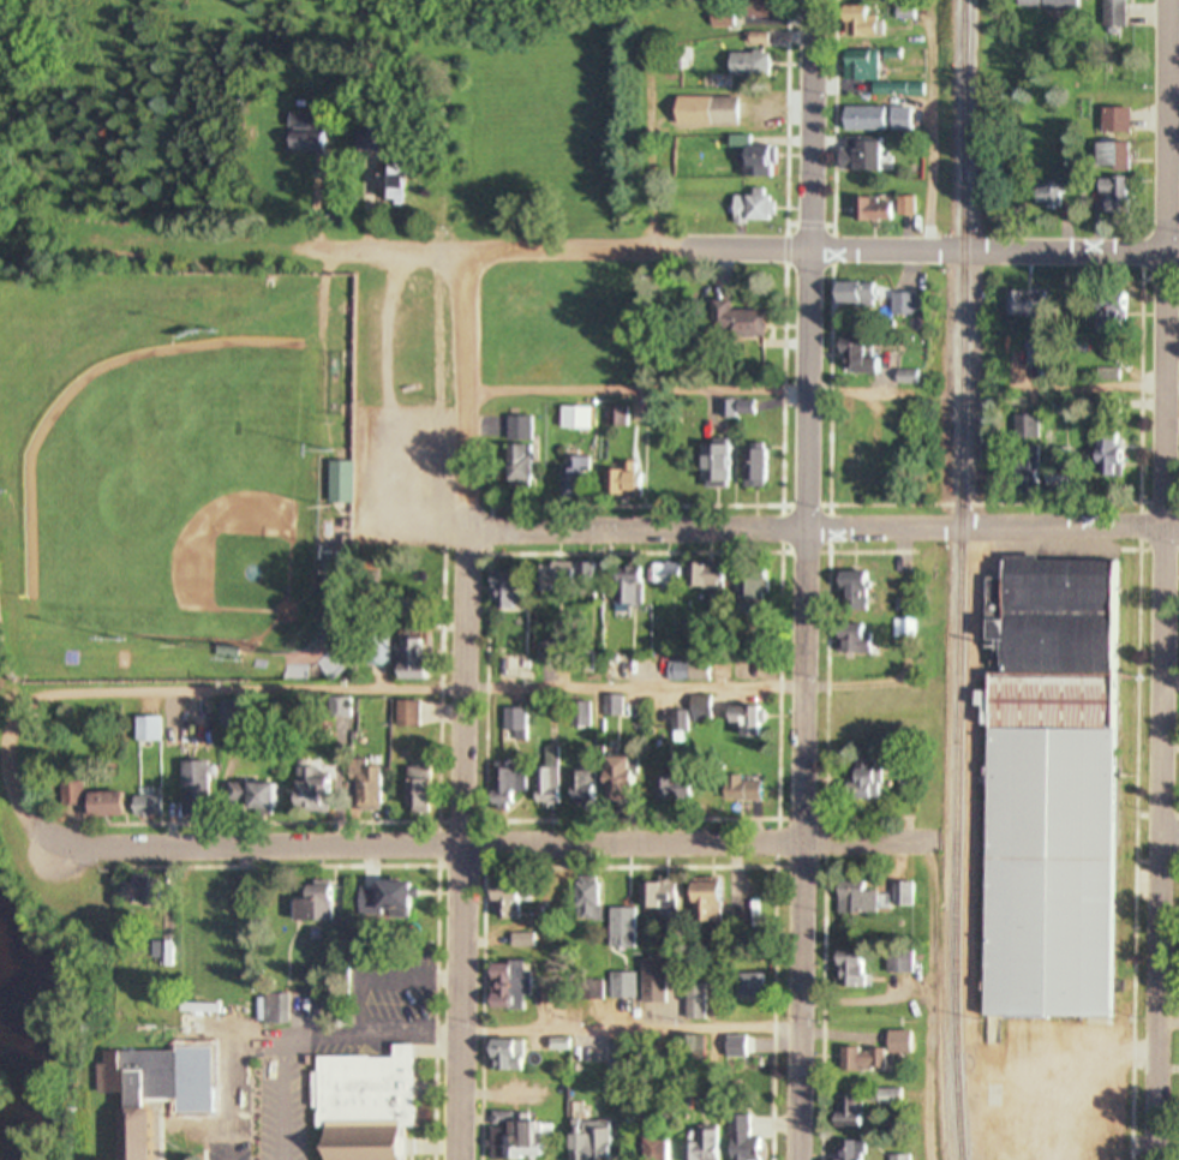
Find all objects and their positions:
building: (875, 0)
building: (1043, 4)
building: (760, 10)
building: (1109, 13)
building: (717, 22)
building: (857, 24)
building: (742, 64)
building: (856, 67)
road: (1172, 95)
building: (716, 113)
building: (858, 119)
building: (1111, 121)
road: (928, 125)
building: (300, 136)
building: (1107, 156)
building: (852, 157)
building: (752, 162)
building: (367, 184)
building: (1046, 196)
building: (1109, 199)
road: (370, 209)
building: (746, 210)
building: (866, 211)
road: (744, 251)
building: (850, 294)
building: (899, 305)
building: (1017, 305)
building: (1105, 318)
building: (728, 322)
building: (850, 358)
building: (1107, 377)
road: (1087, 389)
road: (686, 393)
building: (734, 409)
building: (612, 418)
building: (1021, 427)
building: (514, 430)
building: (1100, 455)
park: (216, 456)
building: (708, 467)
building: (848, 467)
building: (514, 468)
building: (749, 470)
building: (1019, 471)
building: (570, 482)
building: (618, 483)
building: (335, 484)
road: (821, 531)
building: (683, 578)
road: (1161, 579)
road: (804, 580)
railway: (957, 580)
building: (563, 581)
building: (747, 585)
building: (622, 588)
building: (498, 590)
building: (846, 591)
building: (848, 639)
building: (407, 660)
building: (736, 670)
building: (684, 671)
road: (1169, 681)
road: (400, 689)
road: (462, 706)
building: (611, 707)
building: (689, 713)
building: (579, 716)
building: (742, 722)
building: (515, 724)
building: (615, 781)
building: (861, 781)
building: (546, 782)
building: (361, 785)
building: (503, 785)
building: (1042, 787)
building: (192, 788)
building: (412, 788)
building: (668, 789)
building: (732, 789)
building: (579, 790)
building: (309, 791)
building: (253, 797)
building: (90, 802)
building: (144, 807)
road: (395, 825)
road: (1169, 839)
road: (483, 847)
road: (427, 868)
road: (629, 869)
street lamp: (107, 871)
building: (137, 892)
building: (654, 898)
building: (851, 898)
building: (379, 899)
building: (586, 899)
building: (501, 901)
building: (217, 902)
building: (747, 902)
building: (311, 904)
building: (702, 904)
building: (520, 941)
building: (897, 963)
building: (845, 970)
building: (651, 982)
building: (504, 986)
building: (621, 987)
building: (743, 988)
building: (585, 992)
building: (193, 1003)
building: (693, 1003)
road: (930, 1003)
building: (276, 1011)
road: (1168, 1024)
road: (628, 1030)
river: (25, 1039)
building: (557, 1046)
building: (732, 1048)
building: (688, 1050)
building: (502, 1057)
building: (872, 1057)
building: (617, 1058)
building: (885, 1099)
building: (359, 1107)
building: (845, 1113)
building: (128, 1135)
building: (738, 1138)
building: (515, 1140)
building: (587, 1142)
building: (699, 1147)
building: (222, 1148)
building: (650, 1148)
building: (844, 1152)
building: (1178, 1156)
building: (896, 1159)

